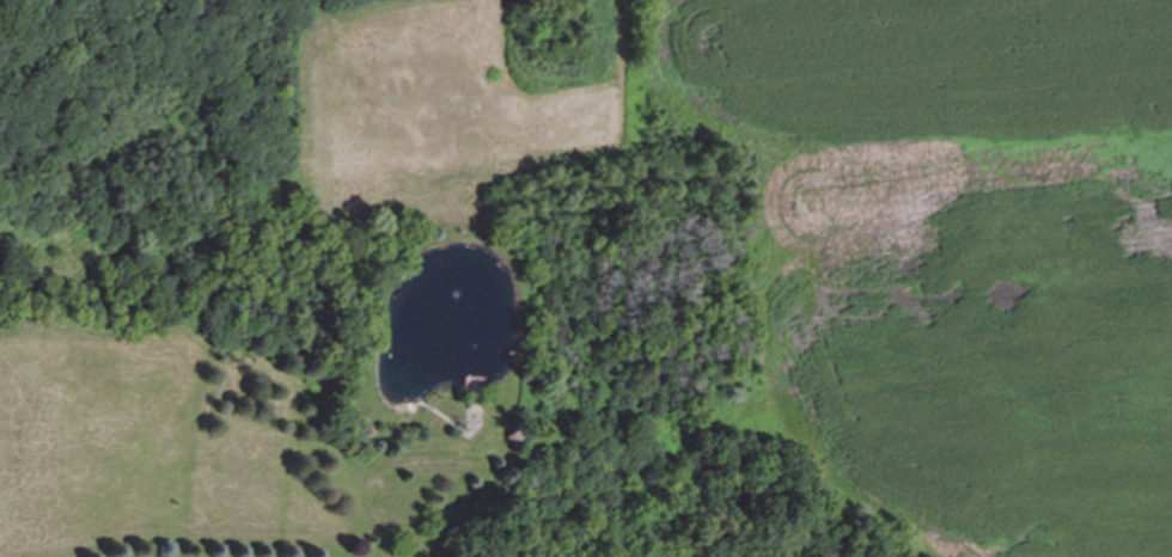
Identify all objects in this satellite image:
crop: (966, 252)

